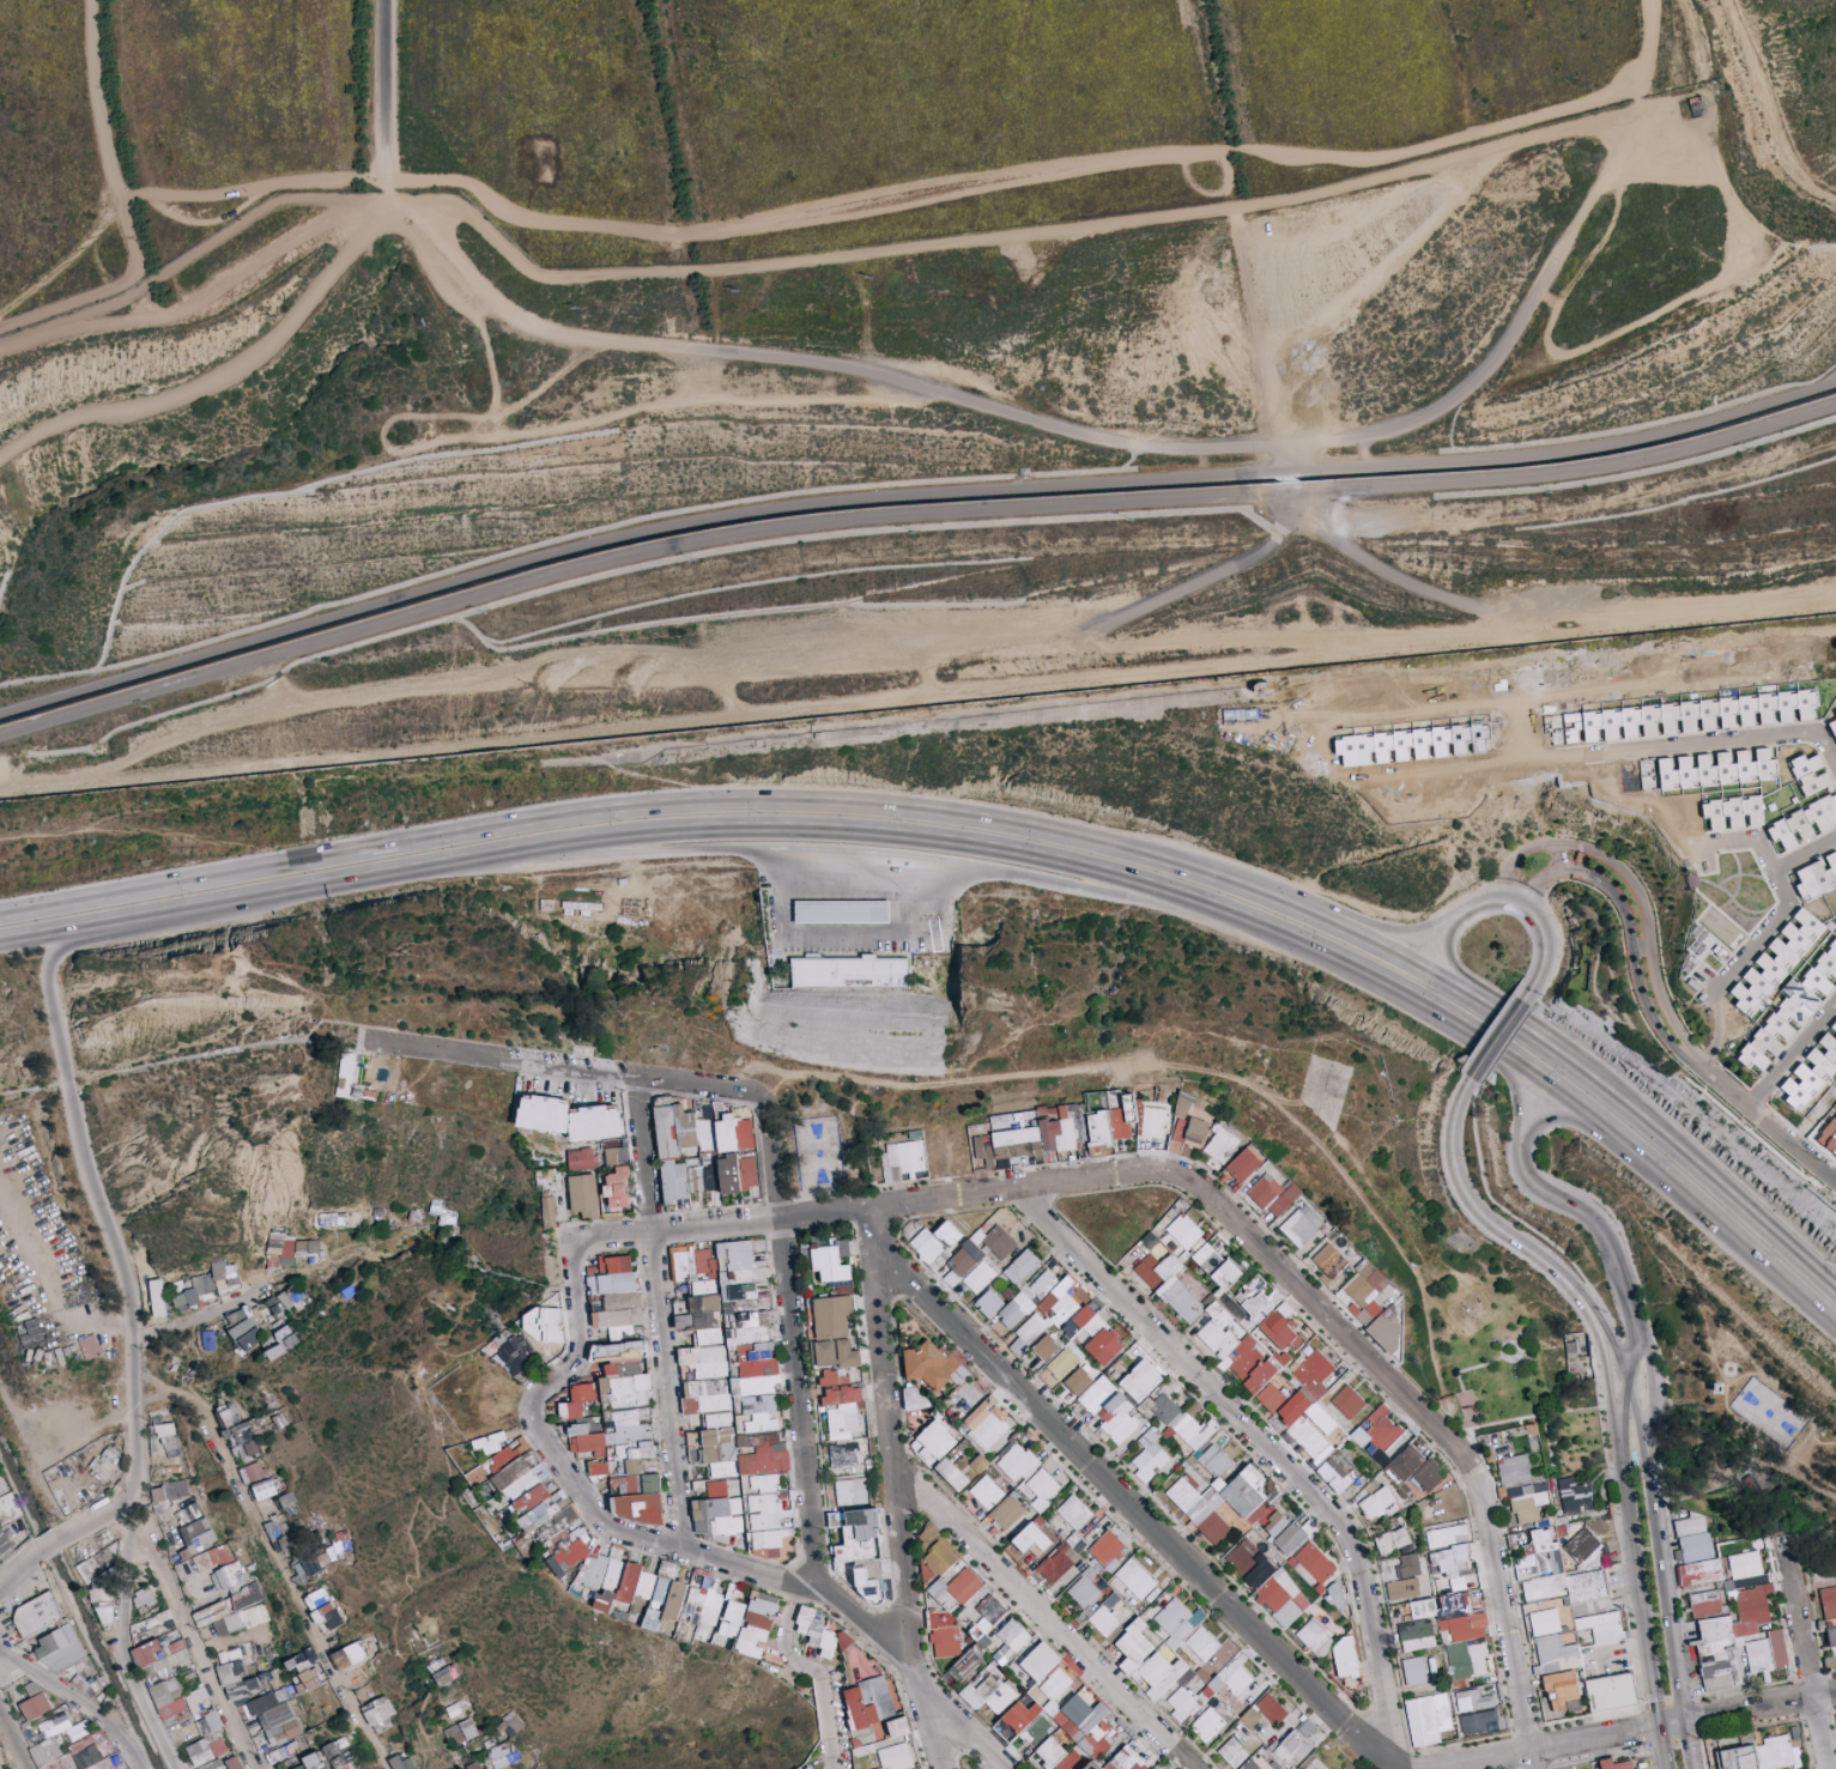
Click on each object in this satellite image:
road: (388, 89)
road: (1768, 108)
road: (1050, 170)
road: (151, 195)
road: (1034, 232)
road: (176, 266)
road: (104, 286)
road: (199, 308)
road: (520, 319)
road: (1260, 328)
road: (1511, 339)
road: (235, 370)
road: (987, 406)
road: (1290, 468)
road: (909, 496)
road: (908, 514)
road: (1390, 575)
road: (1190, 586)
road: (917, 698)
building: (1192, 699)
building: (1704, 715)
building: (1832, 726)
road: (1731, 732)
building: (1394, 745)
road: (1481, 758)
building: (1719, 769)
building: (1810, 773)
building: (1734, 812)
building: (1804, 823)
road: (981, 824)
road: (848, 837)
building: (1775, 841)
road: (565, 842)
road: (1767, 847)
road: (1522, 850)
road: (1806, 853)
road: (1559, 856)
road: (846, 867)
building: (1817, 877)
road: (341, 879)
building: (841, 909)
gas station: (841, 909)
road: (157, 910)
road: (51, 929)
road: (838, 934)
road: (1258, 935)
road: (65, 941)
road: (1648, 941)
building: (850, 973)
building: (1787, 986)
building: (1835, 1024)
road: (56, 1032)
building: (1824, 1058)
building: (351, 1076)
building: (1801, 1088)
building: (1818, 1095)
building: (545, 1113)
building: (596, 1122)
building: (1189, 1122)
building: (1077, 1126)
building: (693, 1129)
building: (666, 1132)
building: (734, 1133)
building: (1830, 1138)
building: (1222, 1144)
building: (981, 1152)
building: (611, 1156)
building: (581, 1158)
building: (903, 1159)
building: (1244, 1165)
building: (738, 1173)
building: (703, 1179)
building: (674, 1181)
building: (618, 1187)
building: (584, 1195)
building: (1285, 1199)
building: (1295, 1207)
building: (550, 1212)
building: (1302, 1226)
building: (947, 1232)
building: (283, 1247)
building: (307, 1249)
building: (929, 1249)
building: (978, 1256)
building: (1328, 1258)
building: (1150, 1260)
building: (272, 1261)
building: (832, 1262)
building: (1020, 1266)
building: (737, 1270)
building: (225, 1274)
building: (697, 1274)
building: (618, 1284)
building: (194, 1292)
building: (158, 1297)
building: (1028, 1297)
building: (1181, 1300)
building: (989, 1303)
building: (1375, 1304)
building: (681, 1305)
building: (273, 1309)
building: (834, 1316)
building: (613, 1320)
building: (1071, 1322)
building: (544, 1323)
building: (701, 1326)
building: (243, 1329)
building: (749, 1332)
building: (208, 1340)
building: (283, 1341)
building: (90, 1346)
building: (1047, 1346)
park: (1498, 1347)
building: (514, 1353)
building: (837, 1353)
building: (1273, 1358)
building: (710, 1361)
building: (1064, 1361)
building: (934, 1365)
building: (757, 1373)
building: (624, 1374)
building: (834, 1377)
building: (1140, 1380)
building: (1079, 1381)
building: (705, 1395)
building: (914, 1398)
building: (577, 1400)
building: (842, 1411)
building: (1109, 1411)
building: (757, 1413)
building: (230, 1417)
building: (1182, 1422)
building: (986, 1424)
building: (605, 1435)
building: (1375, 1435)
building: (168, 1438)
building: (246, 1438)
building: (489, 1442)
building: (933, 1442)
building: (764, 1447)
building: (113, 1454)
building: (1150, 1455)
building: (844, 1456)
building: (1016, 1461)
building: (971, 1465)
building: (635, 1466)
building: (599, 1467)
building: (1414, 1471)
building: (253, 1472)
building: (952, 1473)
building: (1335, 1474)
building: (764, 1482)
building: (1, 1486)
building: (1042, 1488)
building: (1520, 1488)
building: (265, 1489)
building: (717, 1489)
building: (531, 1491)
building: (850, 1491)
building: (169, 1492)
building: (983, 1495)
building: (1574, 1495)
building: (287, 1500)
building: (1377, 1502)
building: (637, 1507)
building: (8, 1508)
building: (766, 1511)
building: (188, 1513)
building: (1001, 1513)
building: (719, 1516)
building: (1690, 1525)
building: (1247, 1528)
building: (279, 1533)
building: (855, 1533)
building: (198, 1535)
building: (929, 1535)
building: (1067, 1539)
building: (1393, 1540)
building: (1032, 1541)
building: (769, 1543)
building: (1693, 1546)
building: (1449, 1549)
building: (1107, 1550)
building: (1556, 1553)
building: (322, 1557)
building: (940, 1558)
building: (592, 1563)
building: (1745, 1564)
building: (1407, 1565)
building: (953, 1570)
building: (1701, 1571)
building: (228, 1575)
building: (1135, 1579)
building: (618, 1582)
building: (644, 1585)
building: (867, 1585)
building: (1569, 1586)
building: (956, 1588)
building: (1085, 1588)
building: (1402, 1588)
building: (102, 1589)
building: (733, 1592)
building: (144, 1597)
building: (665, 1597)
building: (702, 1599)
building: (1705, 1604)
building: (323, 1610)
building: (232, 1612)
building: (37, 1613)
building: (1107, 1614)
building: (733, 1618)
building: (1830, 1619)
building: (1545, 1622)
building: (757, 1624)
building: (1602, 1625)
building: (817, 1630)
building: (1187, 1630)
building: (1459, 1630)
building: (943, 1632)
building: (987, 1634)
building: (1417, 1635)
building: (1315, 1636)
building: (1739, 1638)
building: (158, 1647)
building: (61, 1649)
building: (351, 1654)
building: (1556, 1654)
building: (1346, 1658)
building: (302, 1659)
building: (1414, 1671)
building: (230, 1672)
building: (446, 1674)
building: (1182, 1676)
building: (310, 1678)
building: (89, 1688)
building: (243, 1689)
building: (1562, 1689)
building: (1611, 1691)
building: (989, 1692)
building: (168, 1698)
building: (198, 1700)
building: (1473, 1700)
building: (262, 1702)
building: (36, 1707)
building: (873, 1712)
building: (380, 1713)
building: (1428, 1716)
building: (1067, 1720)
building: (208, 1722)
building: (1479, 1722)
building: (279, 1723)
building: (54, 1725)
building: (510, 1725)
building: (1207, 1725)
building: (77, 1729)
building: (462, 1731)
building: (1298, 1741)
building: (206, 1750)
building: (91, 1752)
building: (1232, 1752)
building: (47, 1753)
building: (279, 1753)
building: (1048, 1753)
building: (1756, 1755)
building: (331, 1756)
building: (503, 1756)
building: (896, 1757)
building: (1261, 1761)
building: (400, 1762)
building: (235, 1763)
building: (1617, 1764)
building: (213, 1765)
building: (475, 1765)
building: (301, 1767)
building: (808, 1767)
building: (129, 1768)
building: (458, 1768)
building: (879, 1768)

